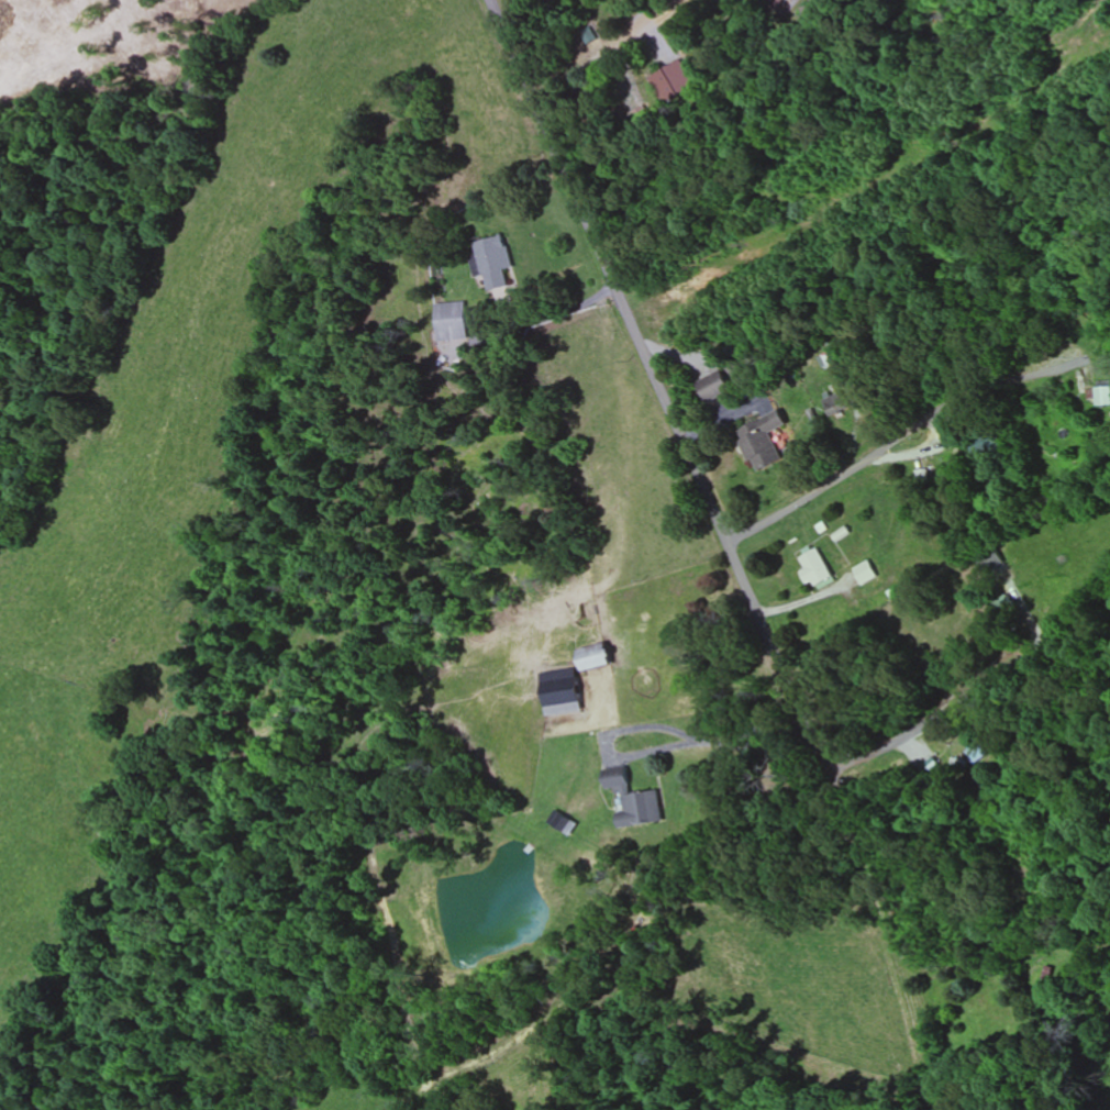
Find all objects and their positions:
building: (780, 2)
building: (674, 82)
building: (496, 263)
building: (452, 322)
road: (645, 351)
building: (714, 387)
building: (1100, 397)
building: (840, 407)
building: (763, 442)
building: (990, 444)
building: (928, 475)
road: (833, 485)
building: (817, 567)
building: (868, 573)
building: (597, 658)
road: (940, 723)
road: (811, 734)
building: (977, 753)
building: (634, 801)
road: (951, 939)
building: (1048, 976)

